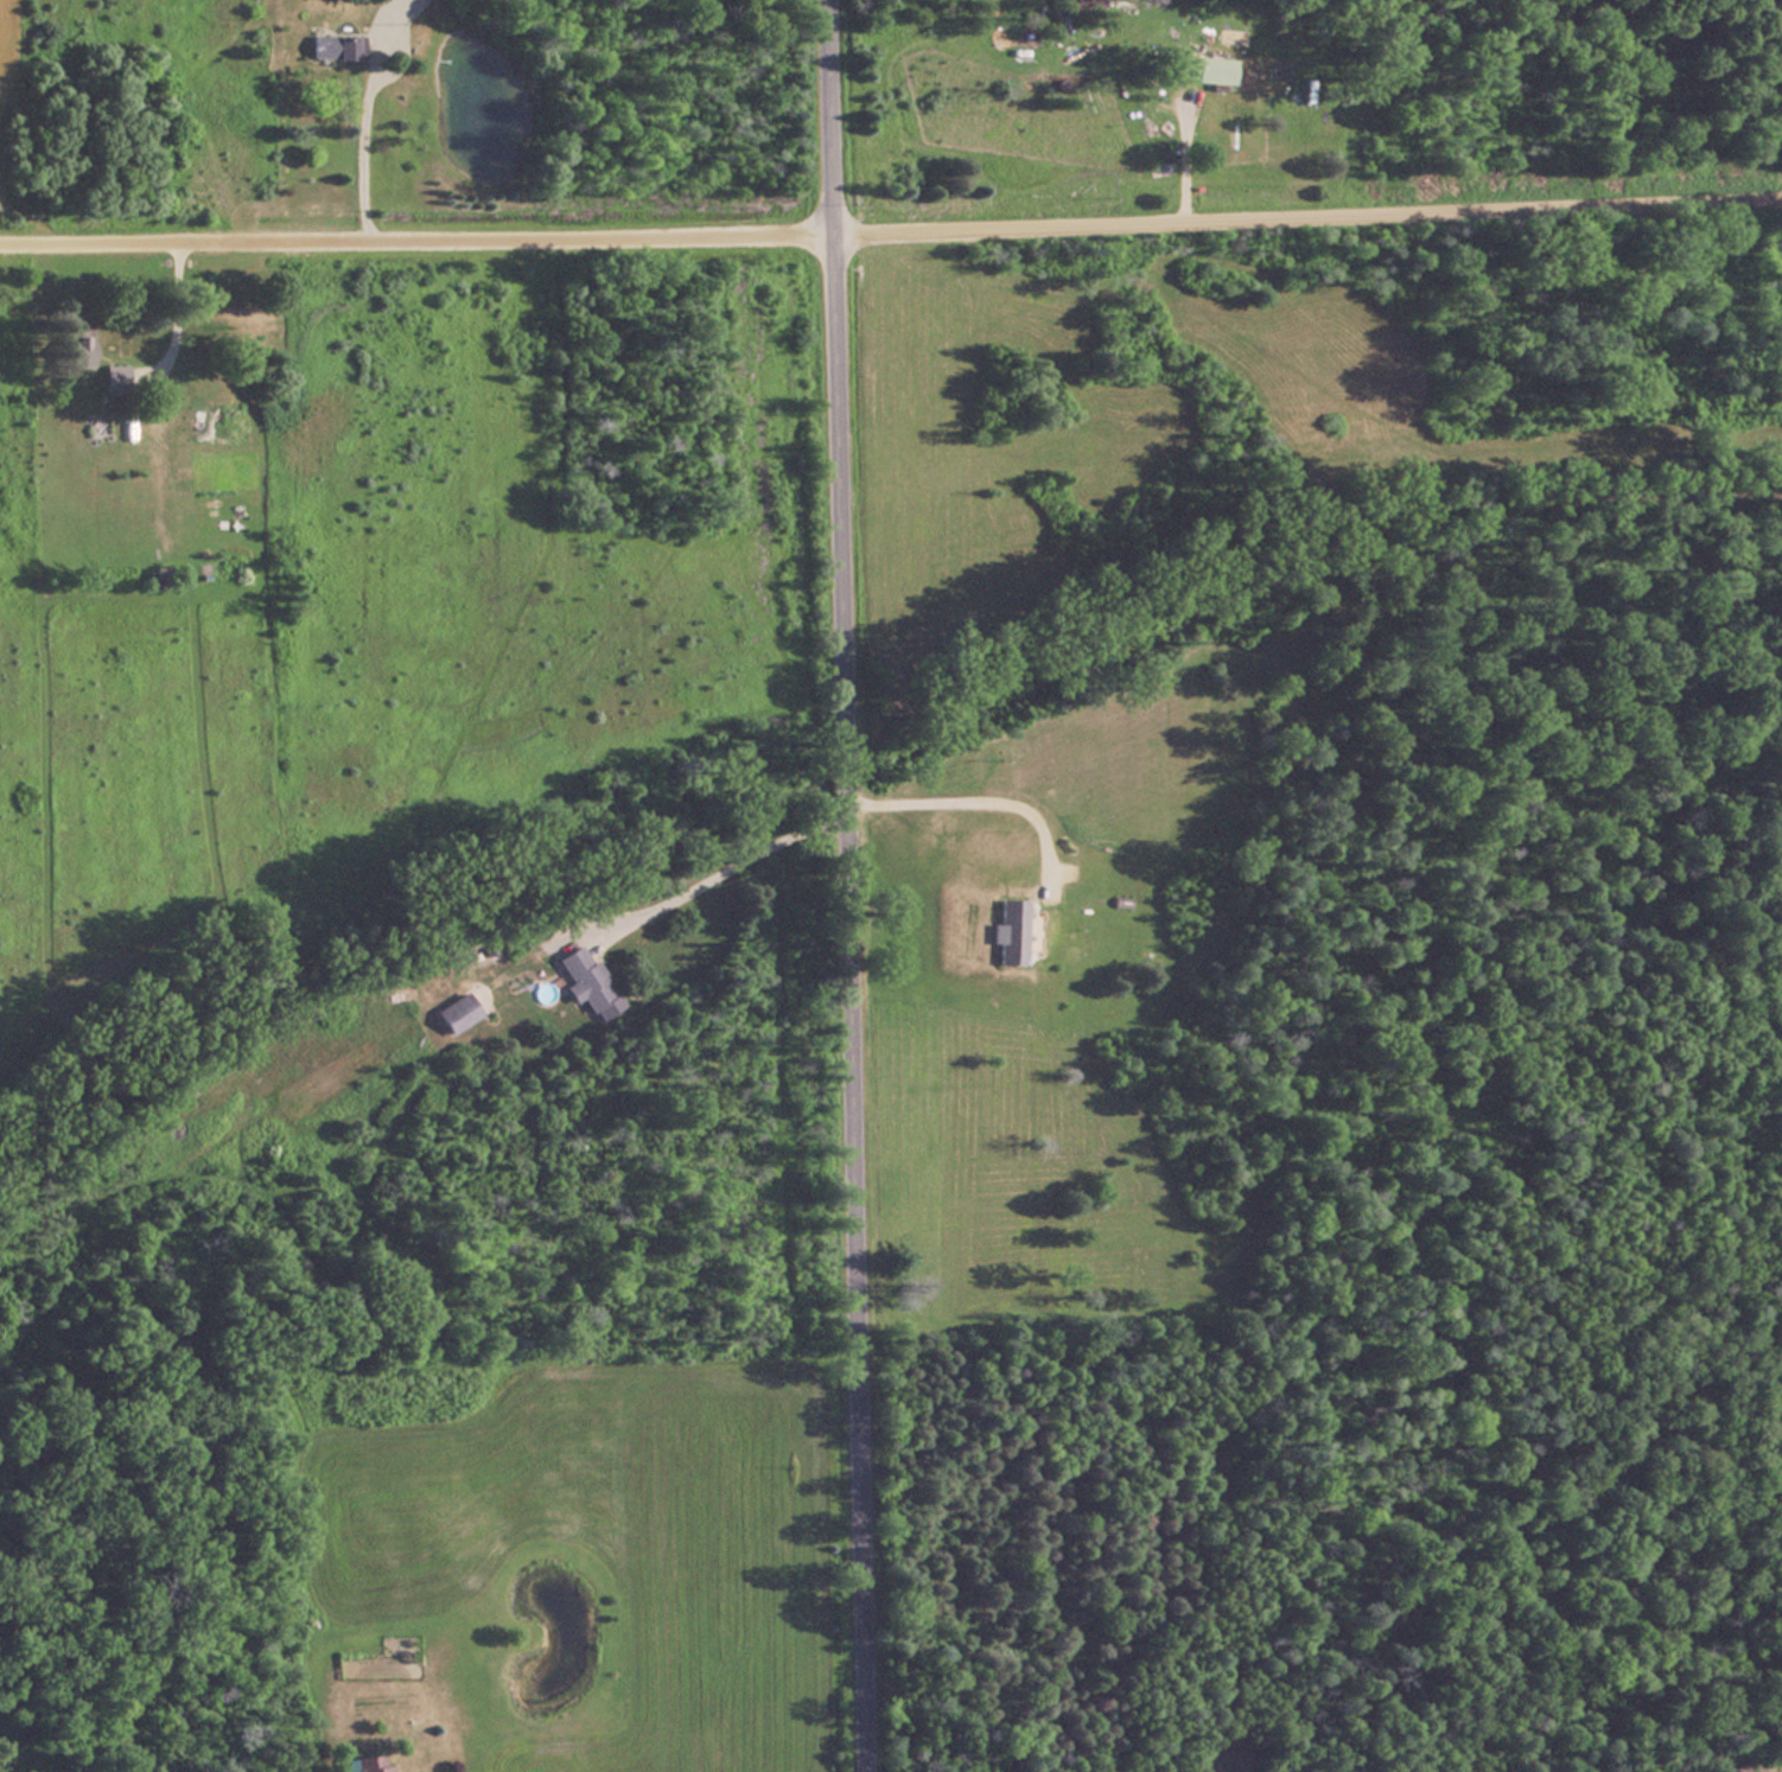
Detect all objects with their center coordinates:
building: (1067, 5)
building: (333, 47)
building: (1203, 70)
road: (891, 237)
building: (74, 348)
building: (113, 376)
road: (974, 799)
road: (718, 871)
road: (845, 886)
building: (1007, 931)
building: (585, 981)
building: (456, 1012)
building: (369, 1764)
building: (1744, 1767)

